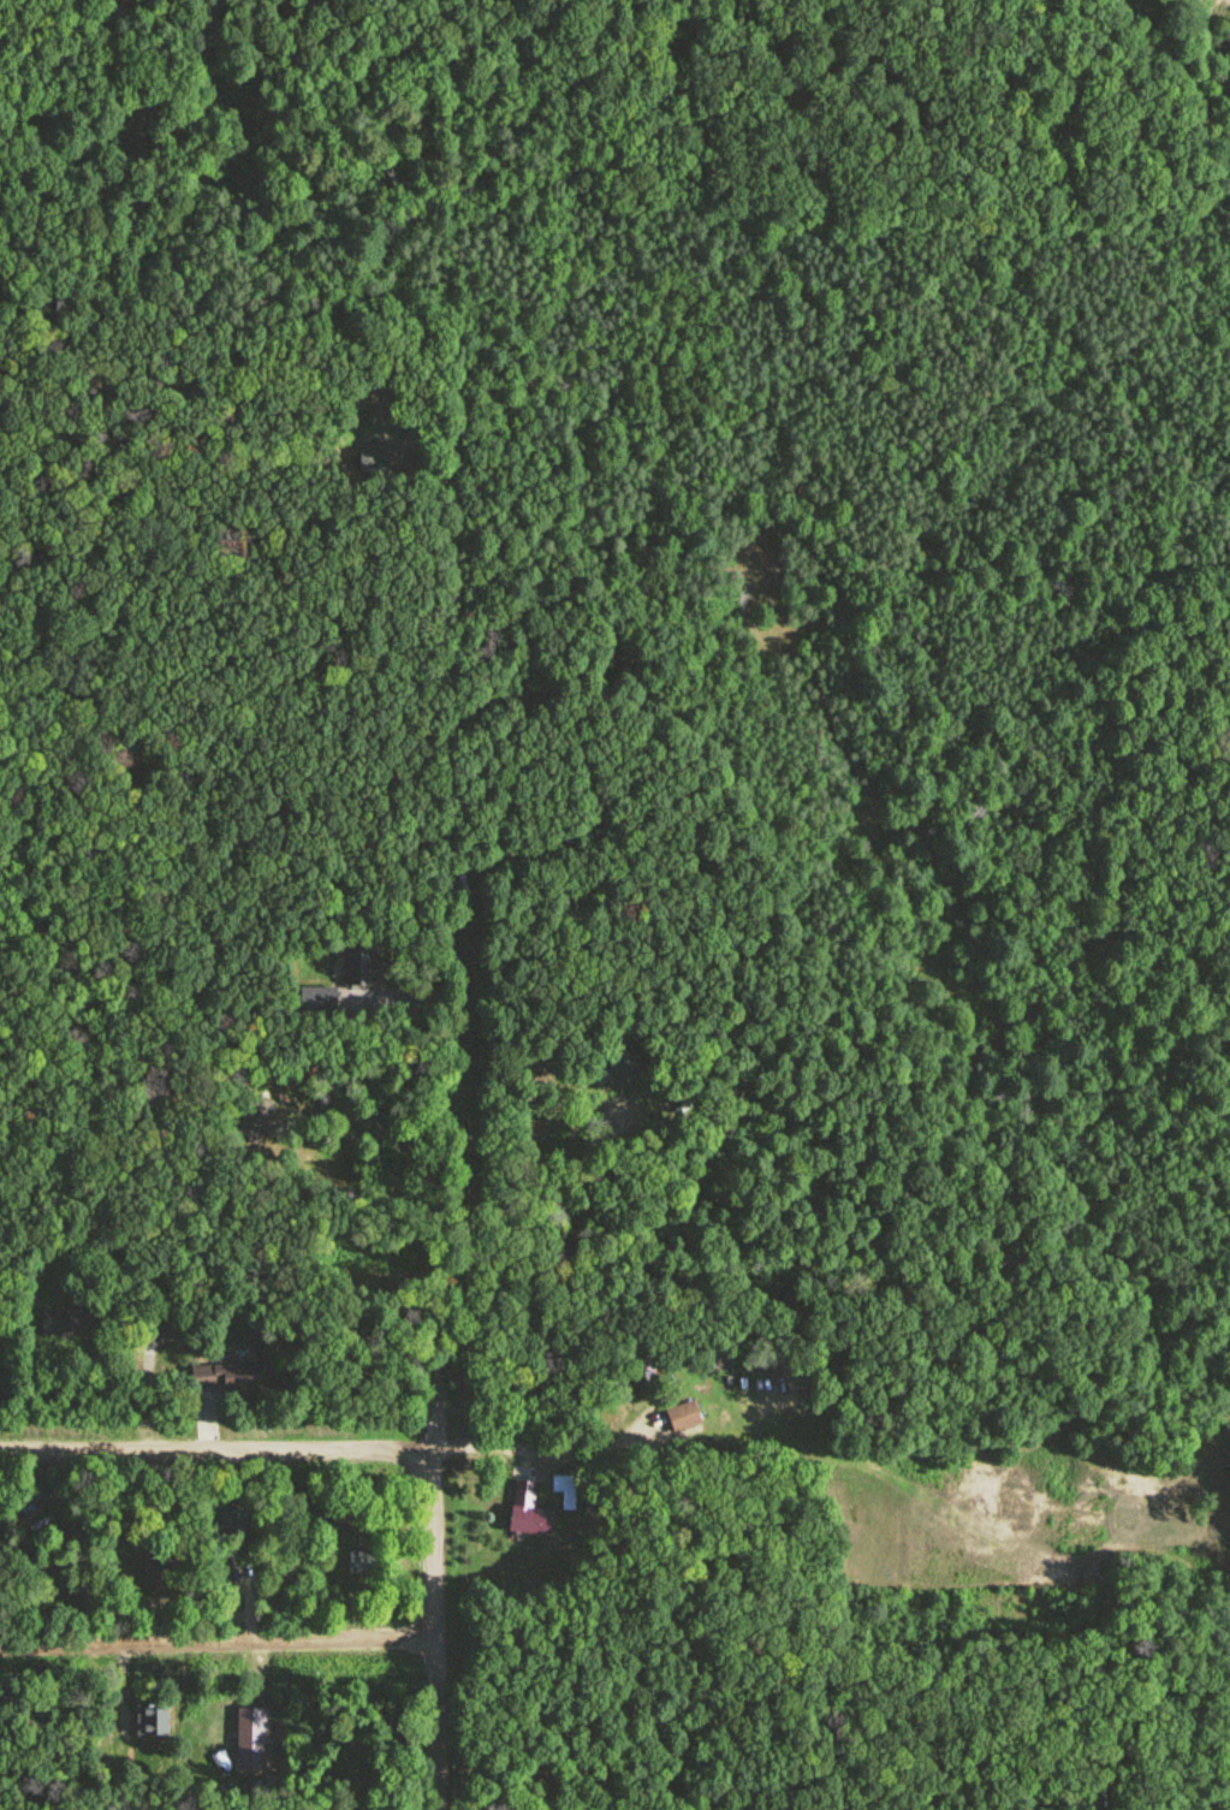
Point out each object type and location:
building: (518, 885)
building: (362, 966)
building: (317, 1001)
building: (620, 1062)
building: (303, 1073)
building: (256, 1120)
building: (63, 1323)
road: (444, 1352)
building: (224, 1381)
building: (683, 1417)
road: (219, 1450)
building: (528, 1512)
building: (225, 1524)
building: (364, 1562)
road: (220, 1645)
building: (151, 1720)
building: (250, 1740)

